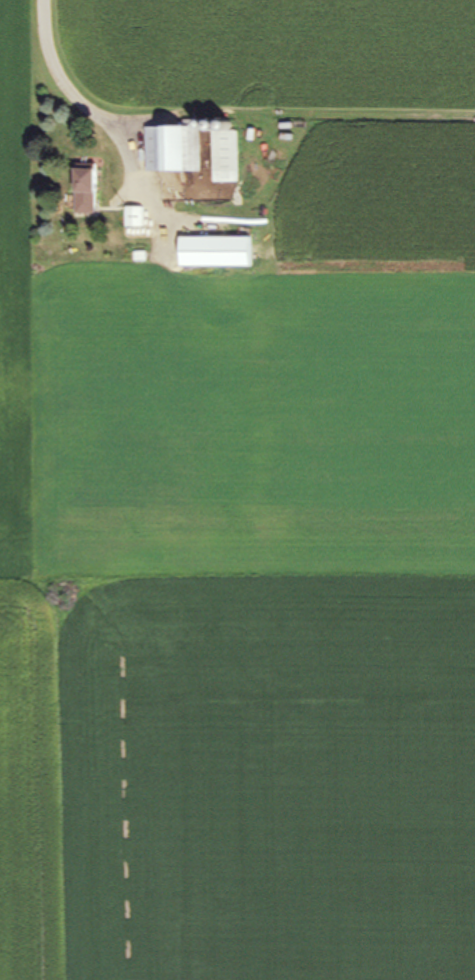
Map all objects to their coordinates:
road: (44, 39)
building: (172, 150)
building: (225, 157)
building: (84, 190)
building: (134, 218)

